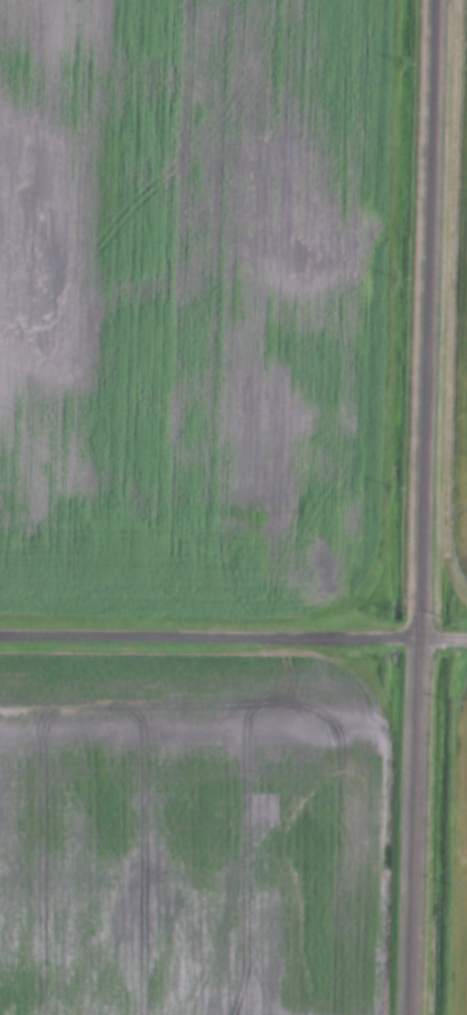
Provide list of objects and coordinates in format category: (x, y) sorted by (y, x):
road: (423, 507)
road: (233, 637)

